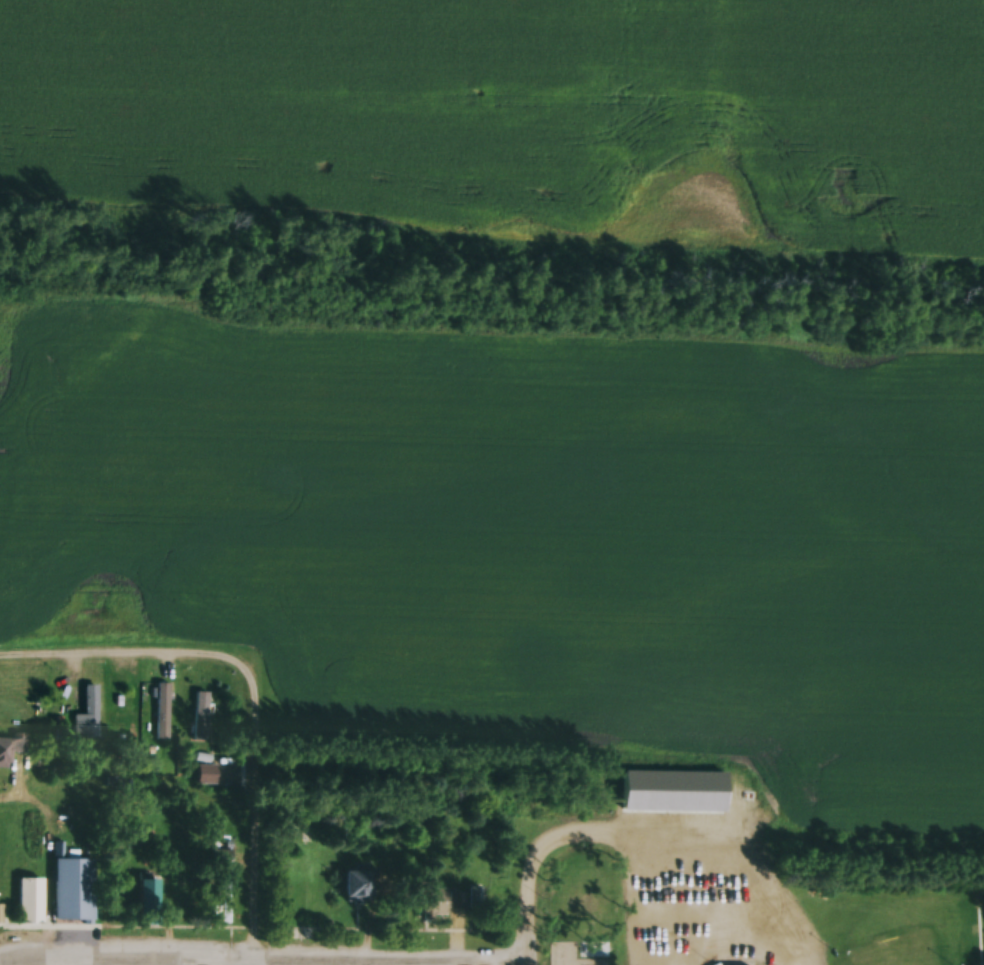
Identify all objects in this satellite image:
road: (121, 657)
building: (88, 715)
building: (154, 718)
building: (11, 749)
road: (244, 820)
road: (641, 828)
building: (288, 830)
building: (222, 860)
building: (359, 887)
building: (554, 892)
building: (67, 897)
building: (476, 900)
building: (225, 903)
building: (149, 904)
building: (441, 905)
building: (588, 906)
building: (20, 910)
building: (672, 942)
building: (721, 942)
park: (886, 952)

